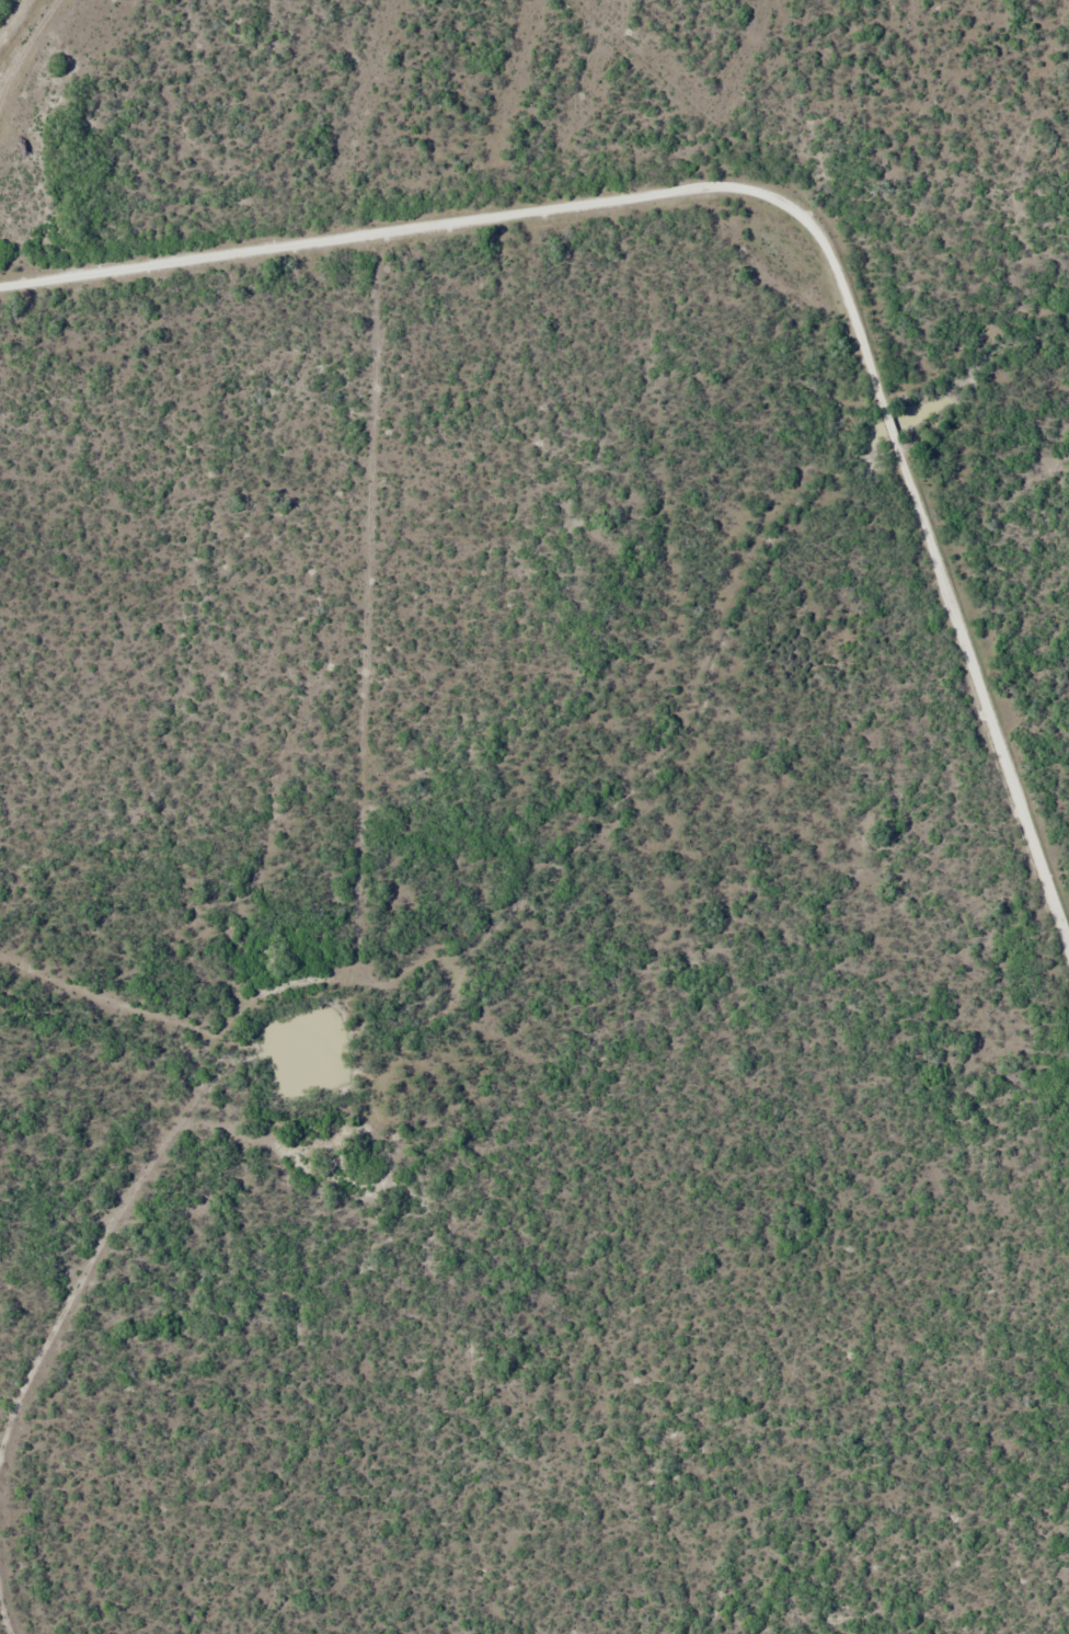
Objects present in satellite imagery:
road: (133, 140)
road: (659, 270)

